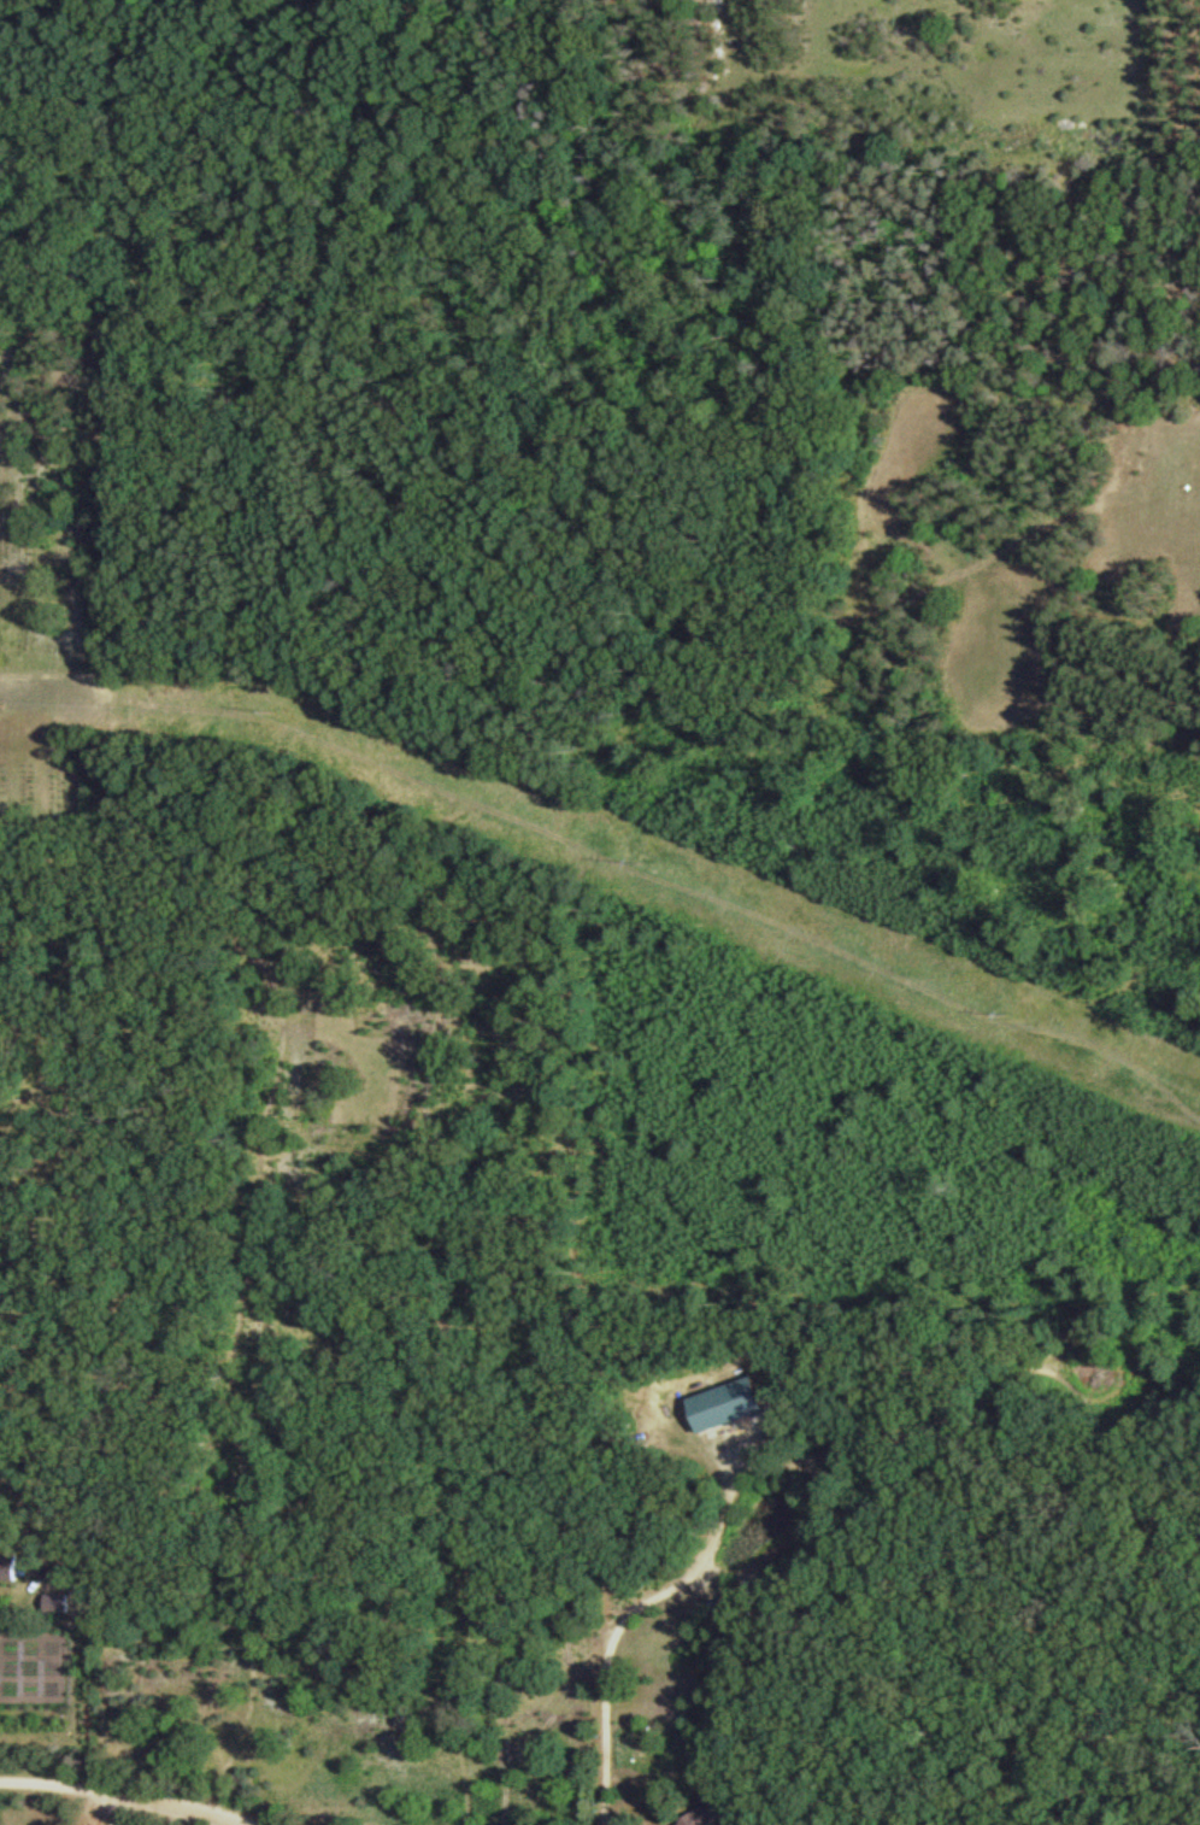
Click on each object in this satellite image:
building: (12, 1565)
road: (128, 1792)
road: (102, 1807)
building: (707, 1813)

